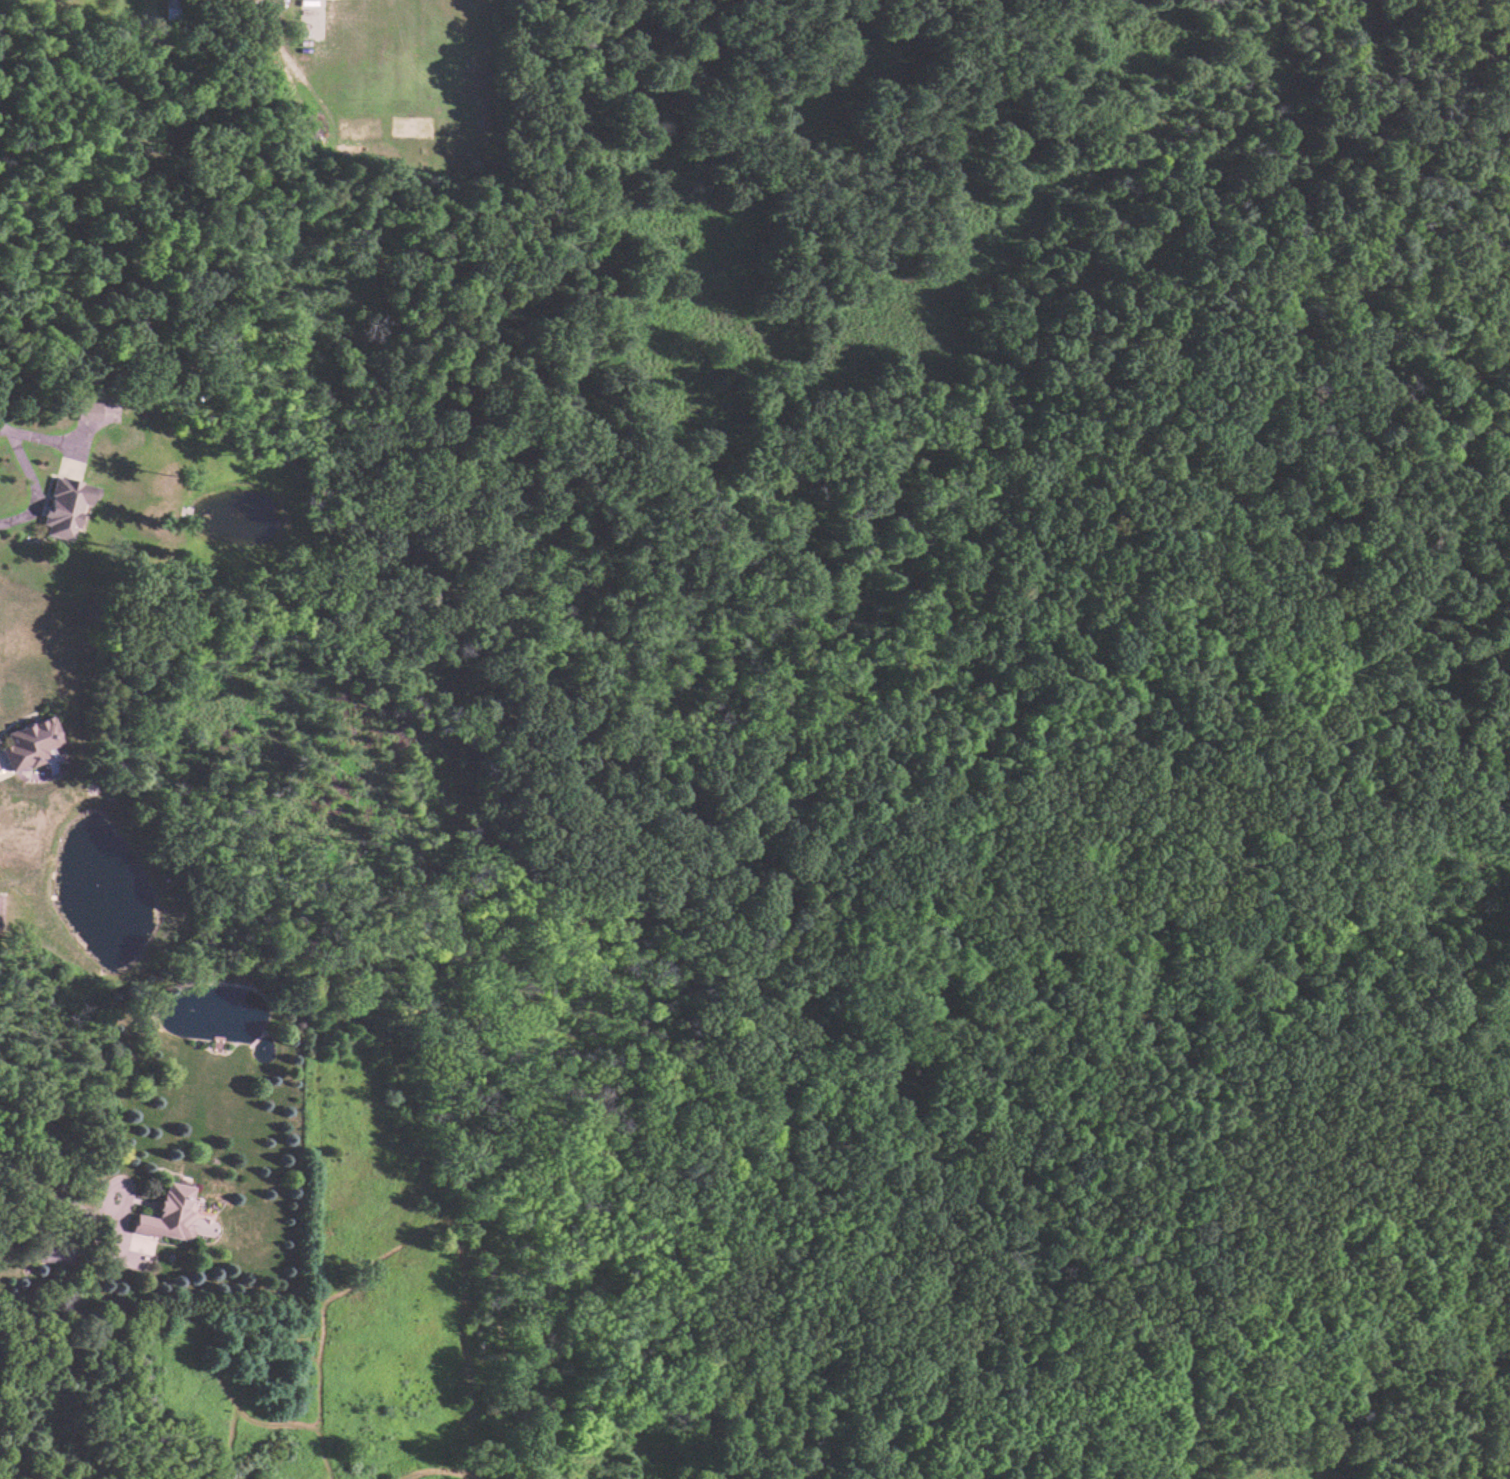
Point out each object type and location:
building: (170, 8)
road: (0, 61)
building: (85, 411)
building: (64, 507)
building: (28, 743)
building: (0, 898)
road: (54, 1197)
building: (172, 1216)
building: (51, 1252)

